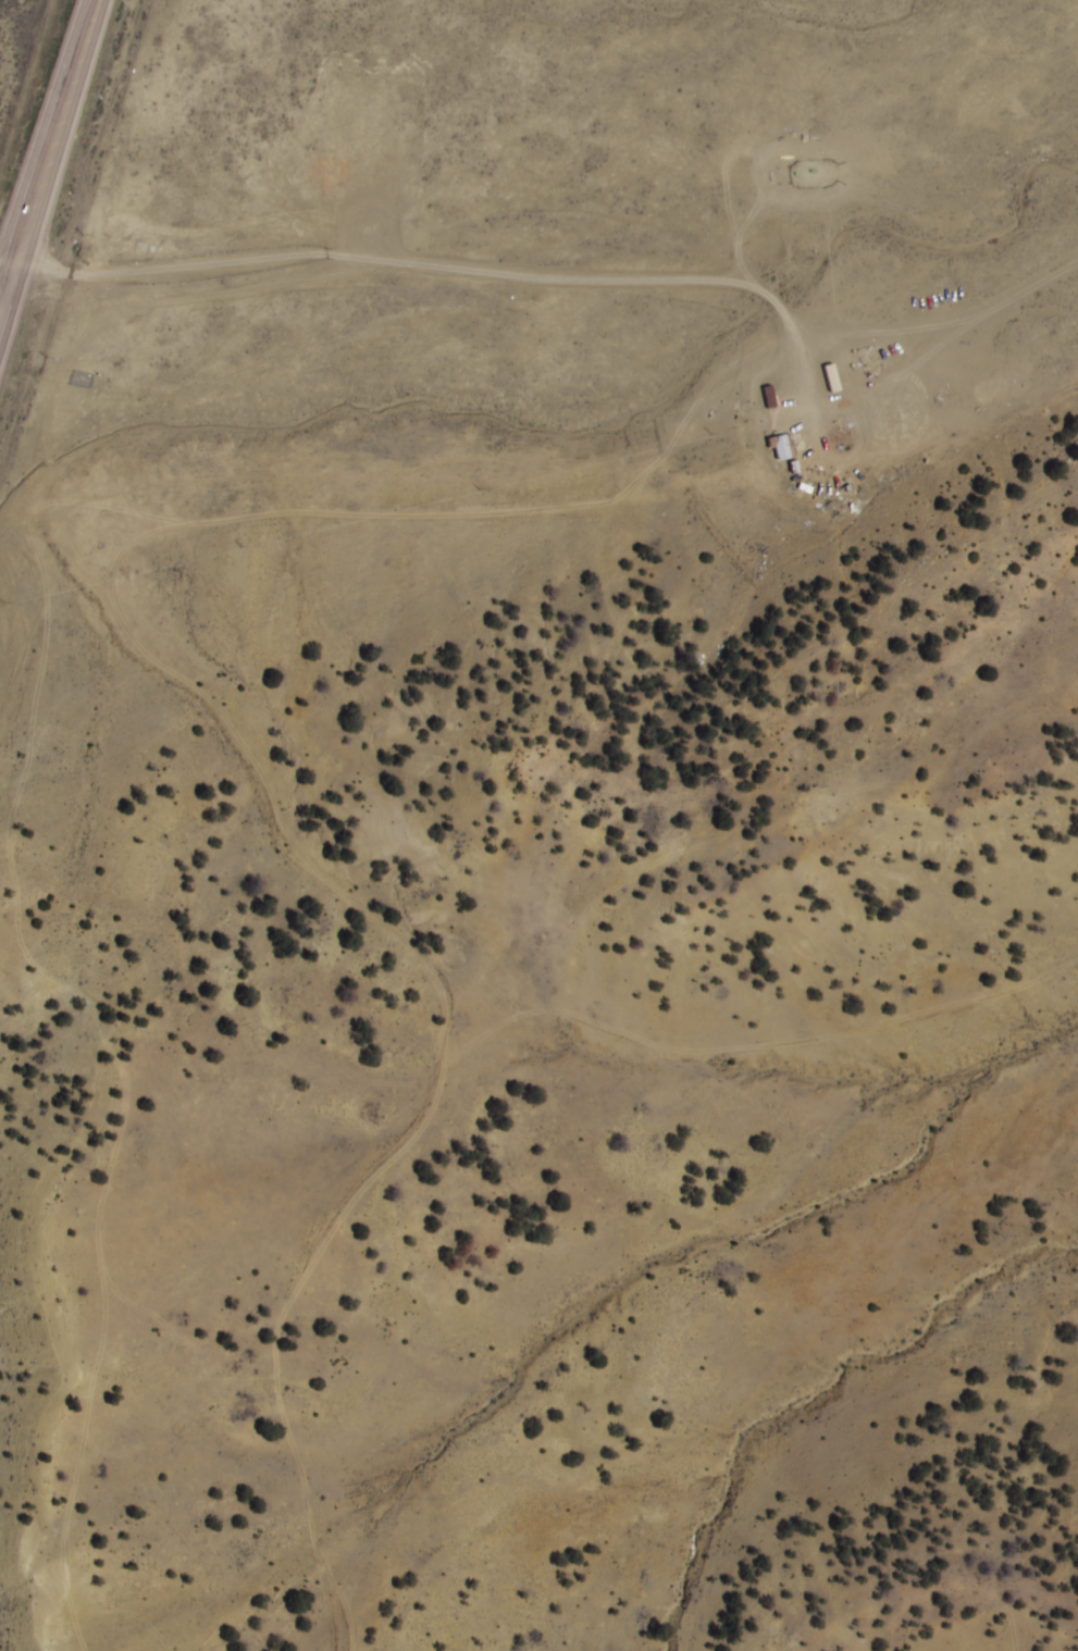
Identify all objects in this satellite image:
road: (46, 151)
road: (453, 262)
road: (4, 268)
building: (784, 446)
road: (459, 512)
road: (301, 858)

